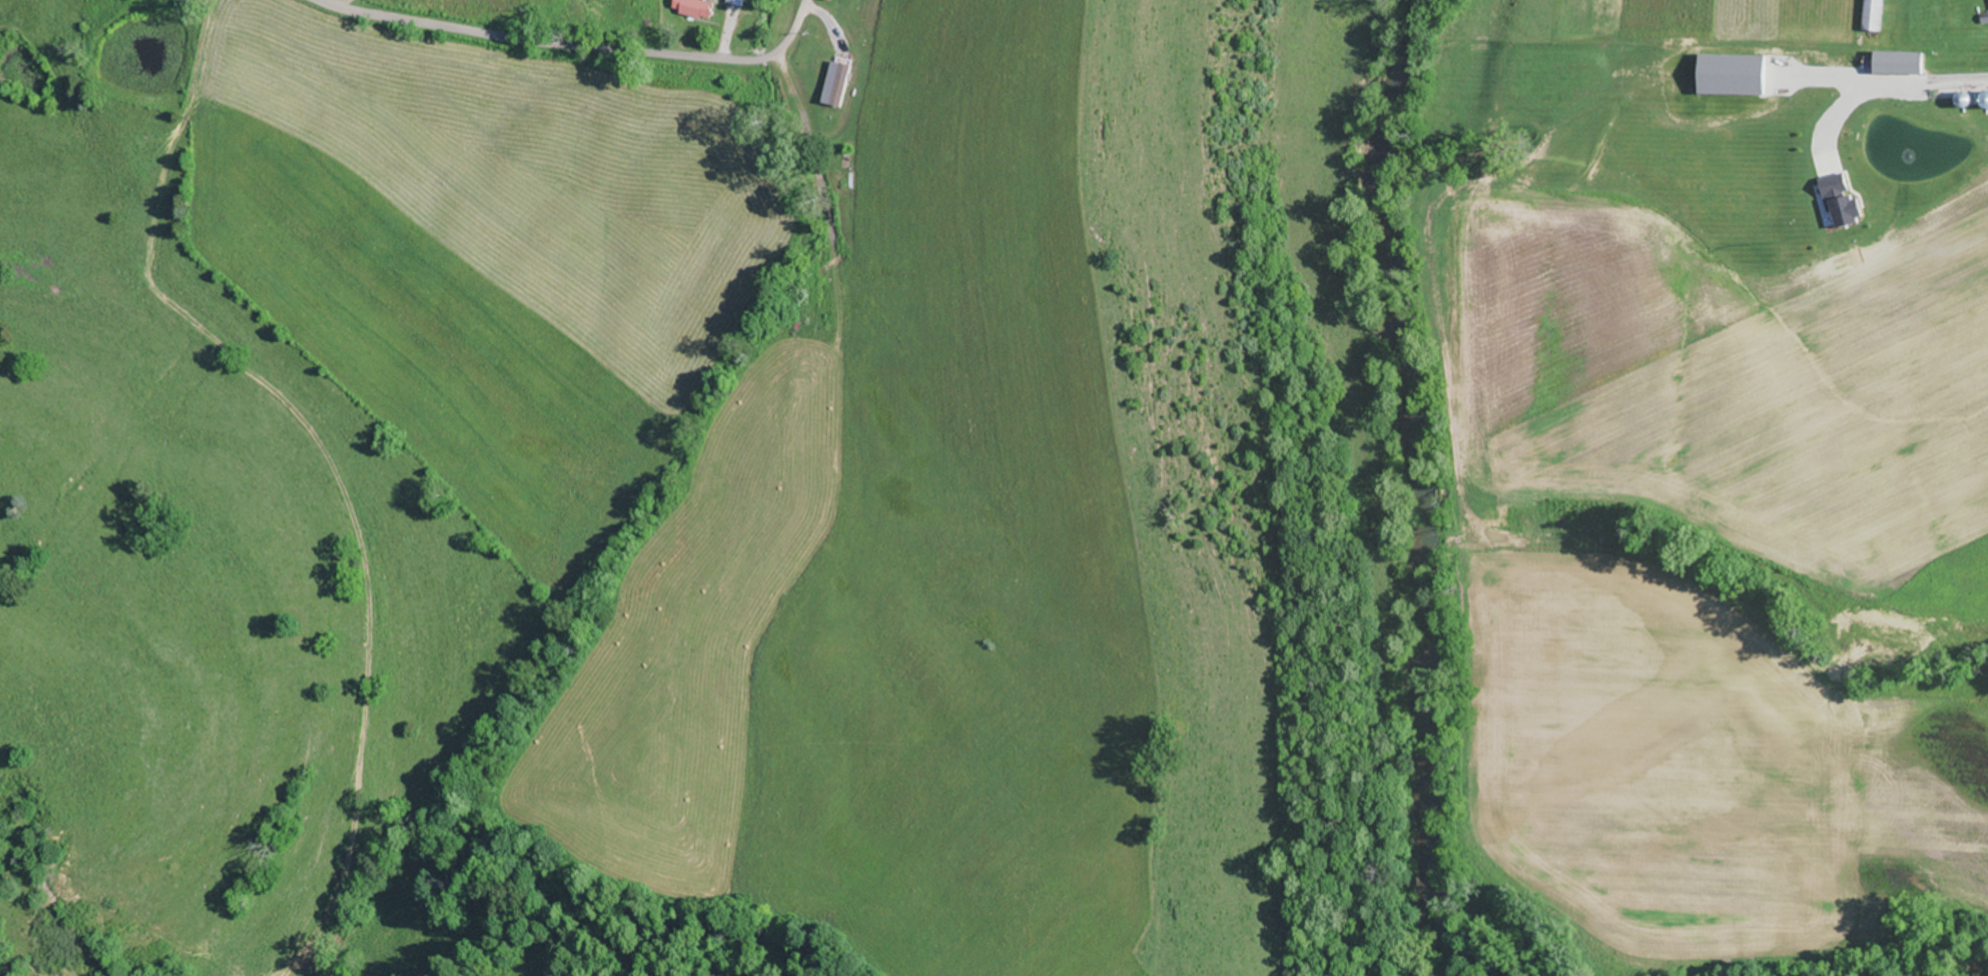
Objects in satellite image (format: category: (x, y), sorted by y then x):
building: (737, 2)
building: (695, 7)
building: (1873, 15)
road: (797, 22)
road: (556, 43)
building: (1893, 61)
building: (830, 71)
road: (1880, 103)
building: (1945, 105)
building: (1870, 238)
building: (1839, 262)

